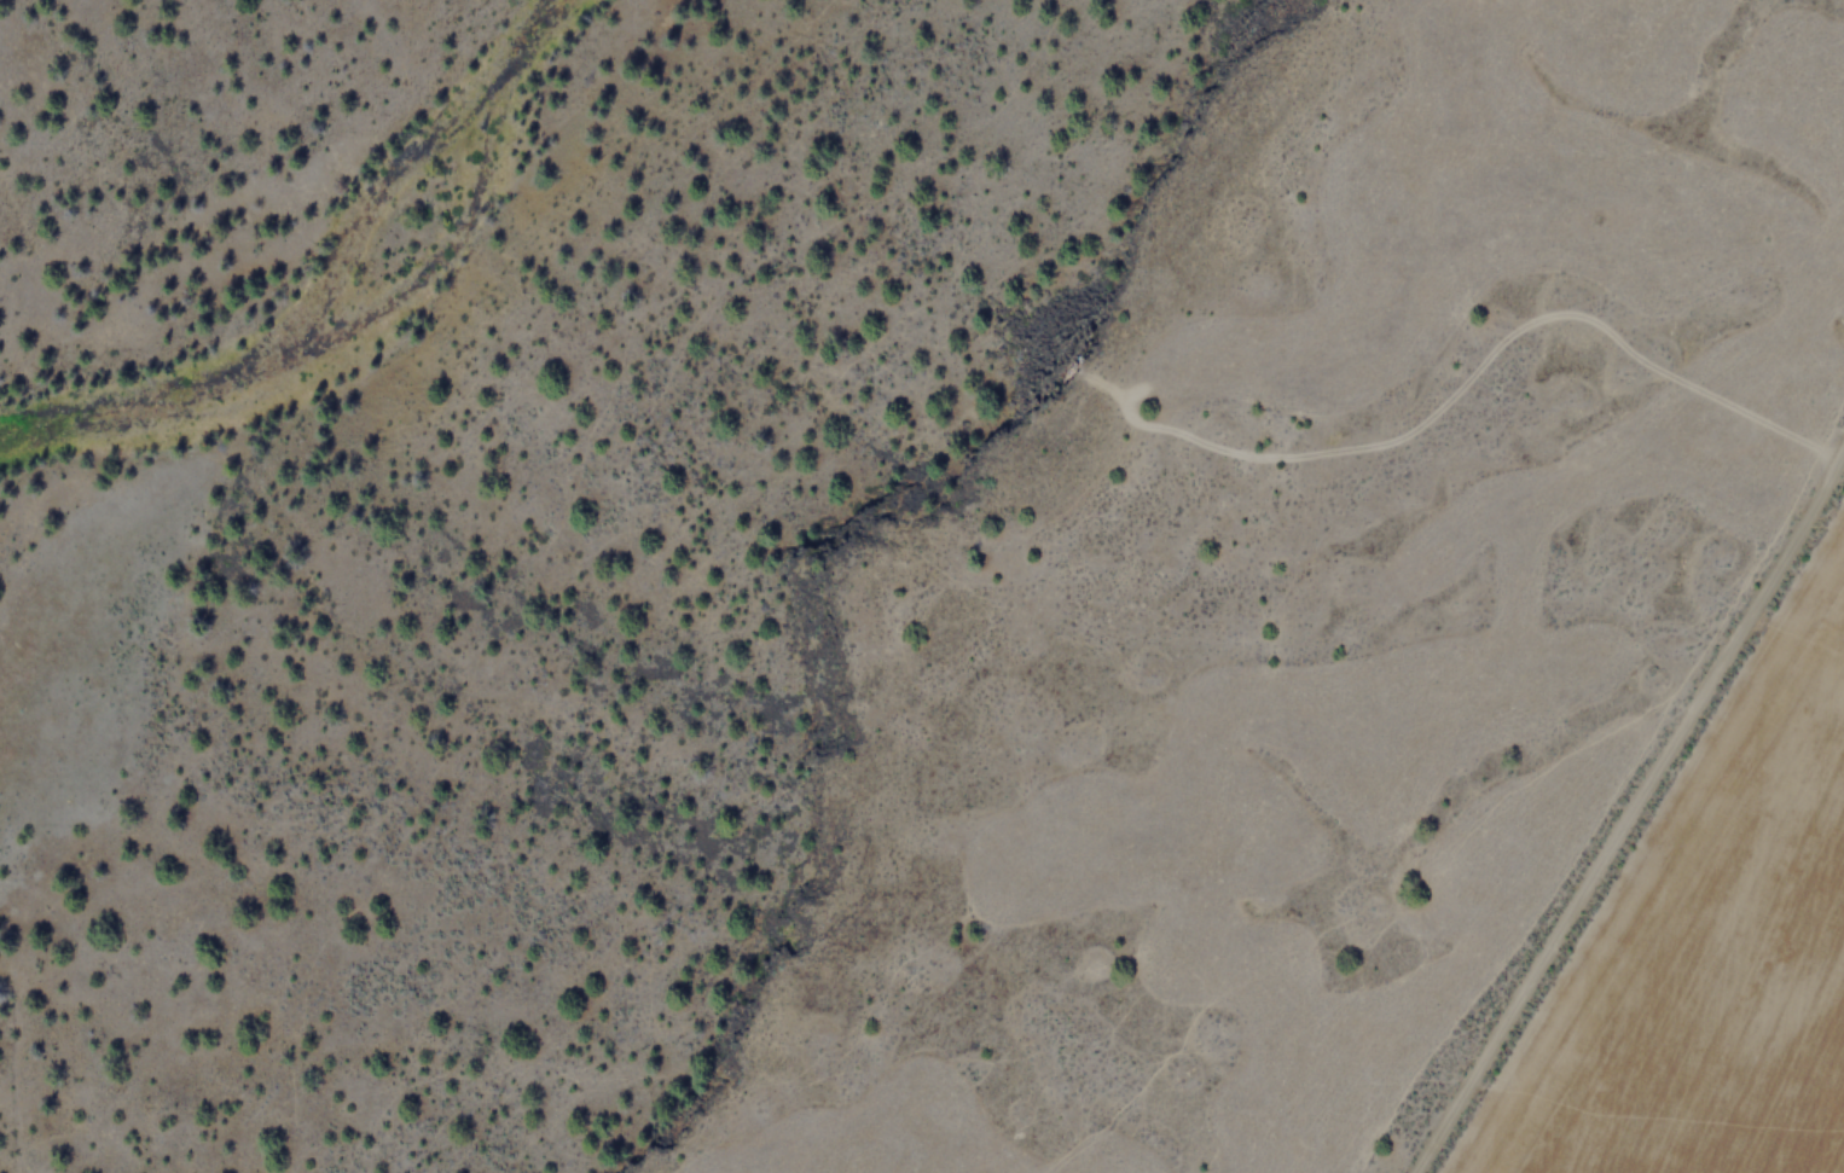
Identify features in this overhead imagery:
road: (1626, 809)

